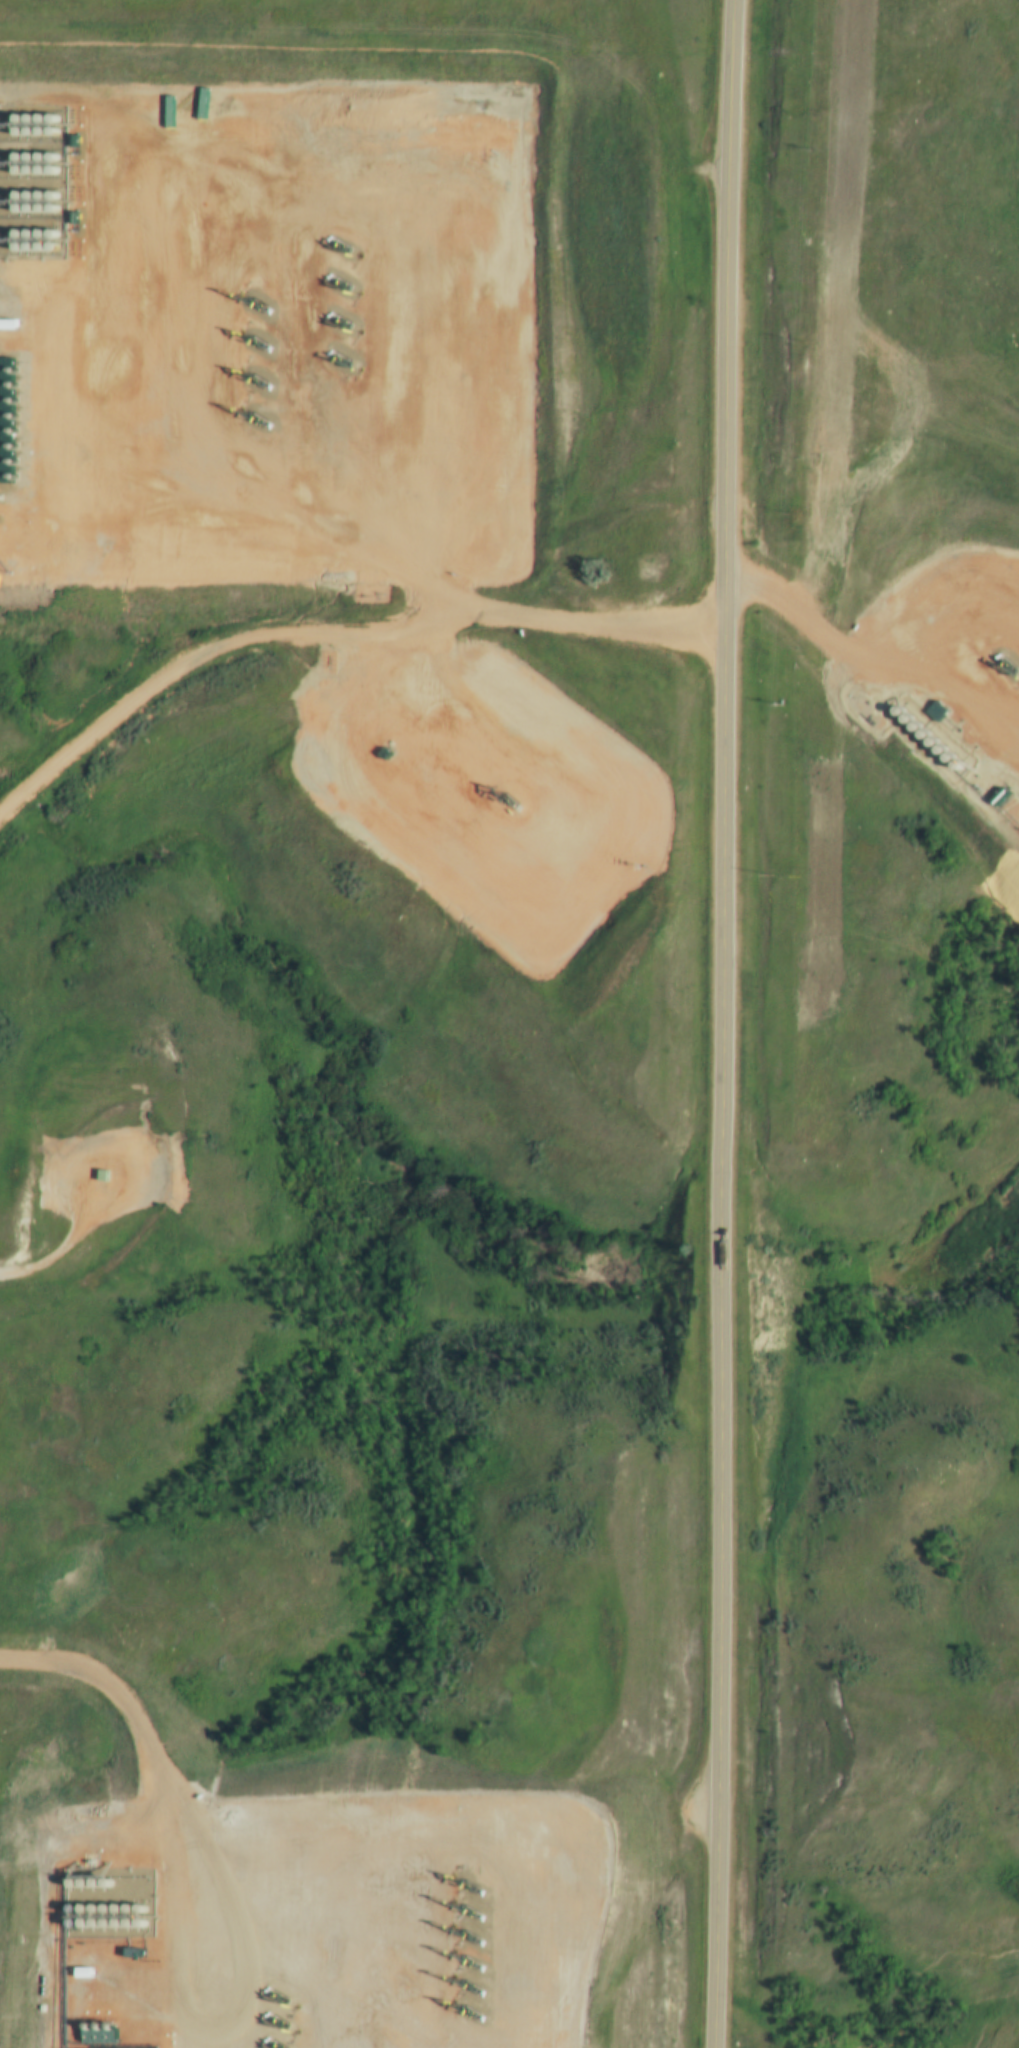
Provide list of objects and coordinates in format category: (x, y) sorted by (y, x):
building: (67, 137)
building: (66, 214)
petroleum well: (339, 243)
petroleum well: (336, 279)
petroleum well: (247, 298)
petroleum well: (337, 316)
building: (4, 321)
petroleum well: (242, 339)
petroleum well: (340, 354)
petroleum well: (244, 374)
petroleum well: (246, 409)
road: (803, 611)
road: (515, 612)
road: (141, 699)
building: (382, 750)
petroleum well: (507, 796)
building: (579, 874)
building: (556, 934)
road: (724, 1024)
road: (114, 1152)
building: (100, 1174)
road: (39, 1261)

